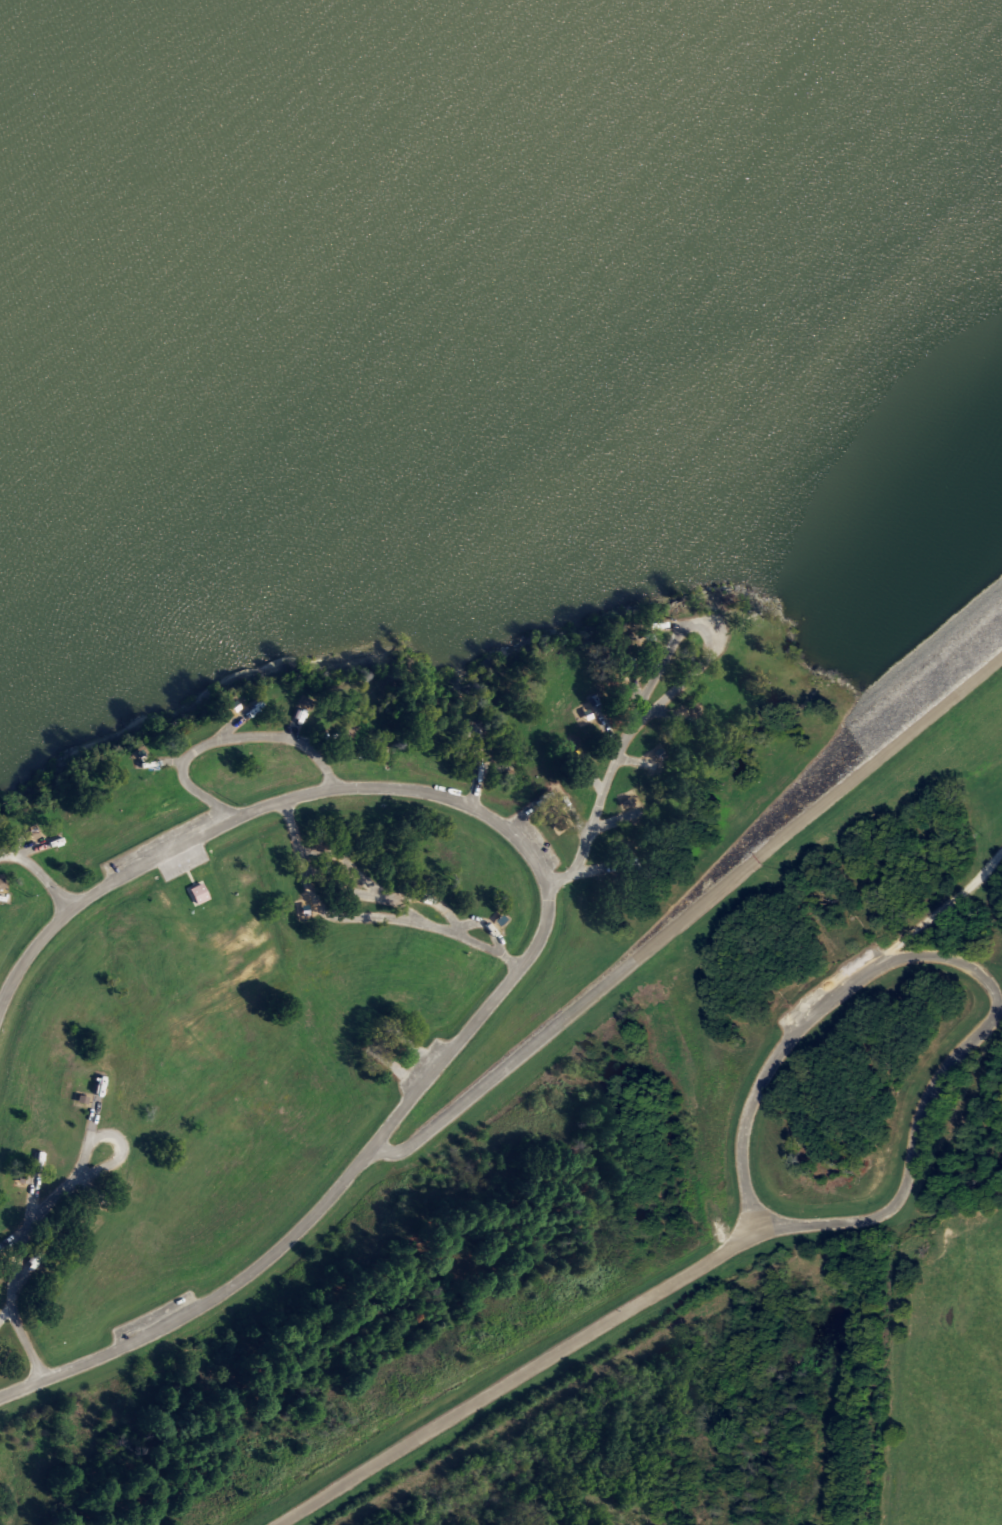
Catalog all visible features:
road: (628, 664)
road: (710, 666)
road: (688, 678)
building: (235, 704)
road: (223, 738)
road: (611, 747)
road: (477, 767)
road: (585, 767)
road: (413, 790)
road: (531, 809)
road: (586, 831)
building: (34, 833)
road: (585, 869)
road: (38, 872)
building: (199, 894)
road: (1, 899)
road: (686, 917)
road: (364, 918)
building: (499, 919)
road: (791, 1032)
road: (384, 1039)
road: (966, 1039)
road: (90, 1107)
road: (109, 1163)
building: (22, 1174)
road: (895, 1206)
road: (831, 1223)
road: (10, 1270)
road: (205, 1299)
road: (892, 1364)
road: (518, 1374)

